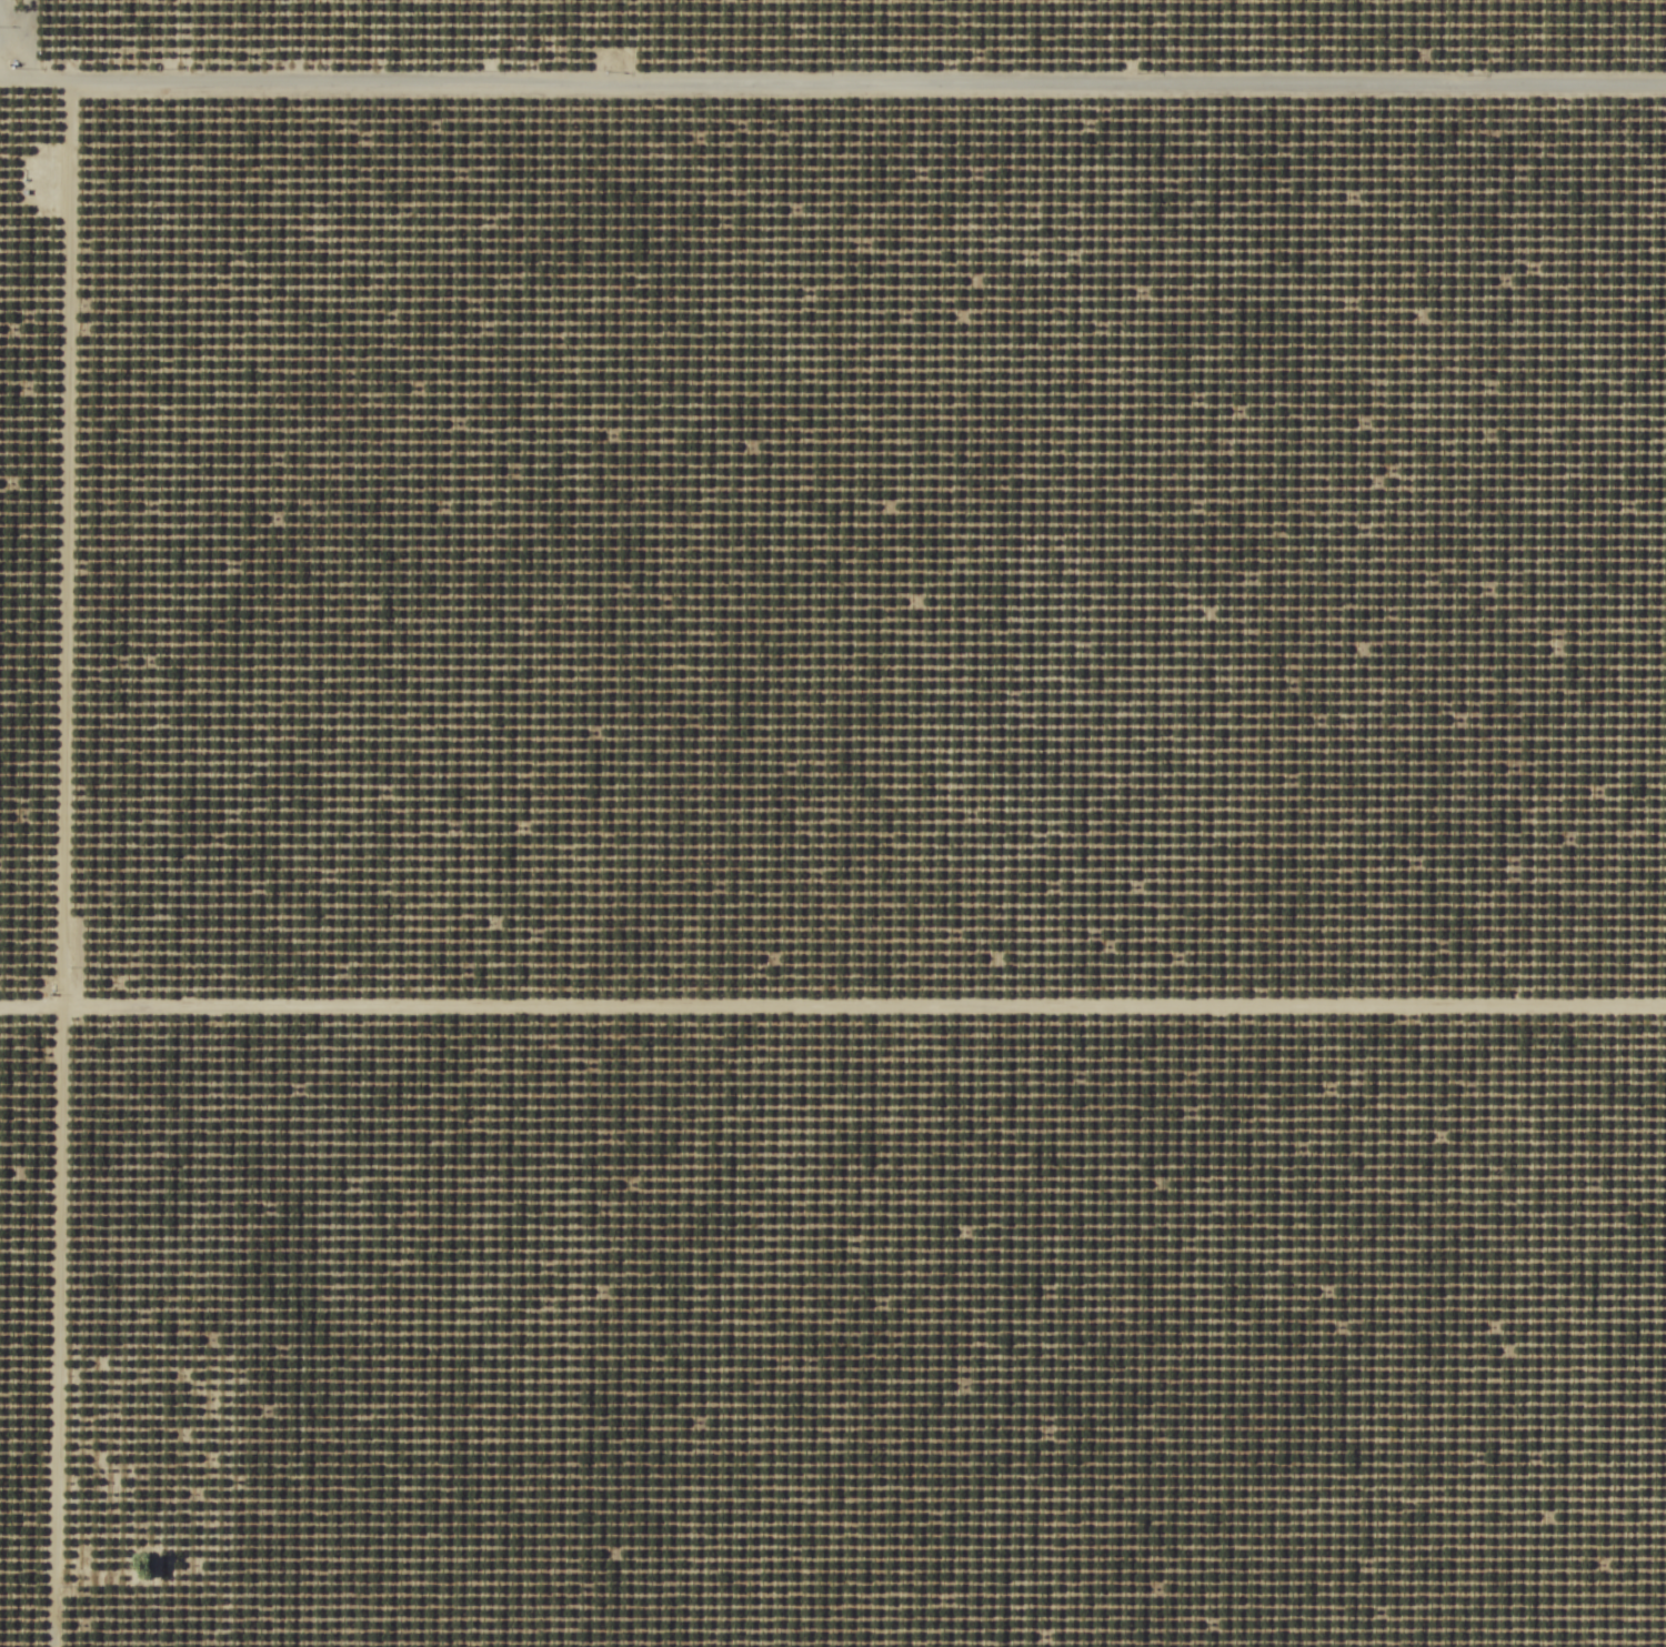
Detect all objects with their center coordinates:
road: (832, 54)
road: (51, 861)
road: (859, 974)
road: (199, 1580)

